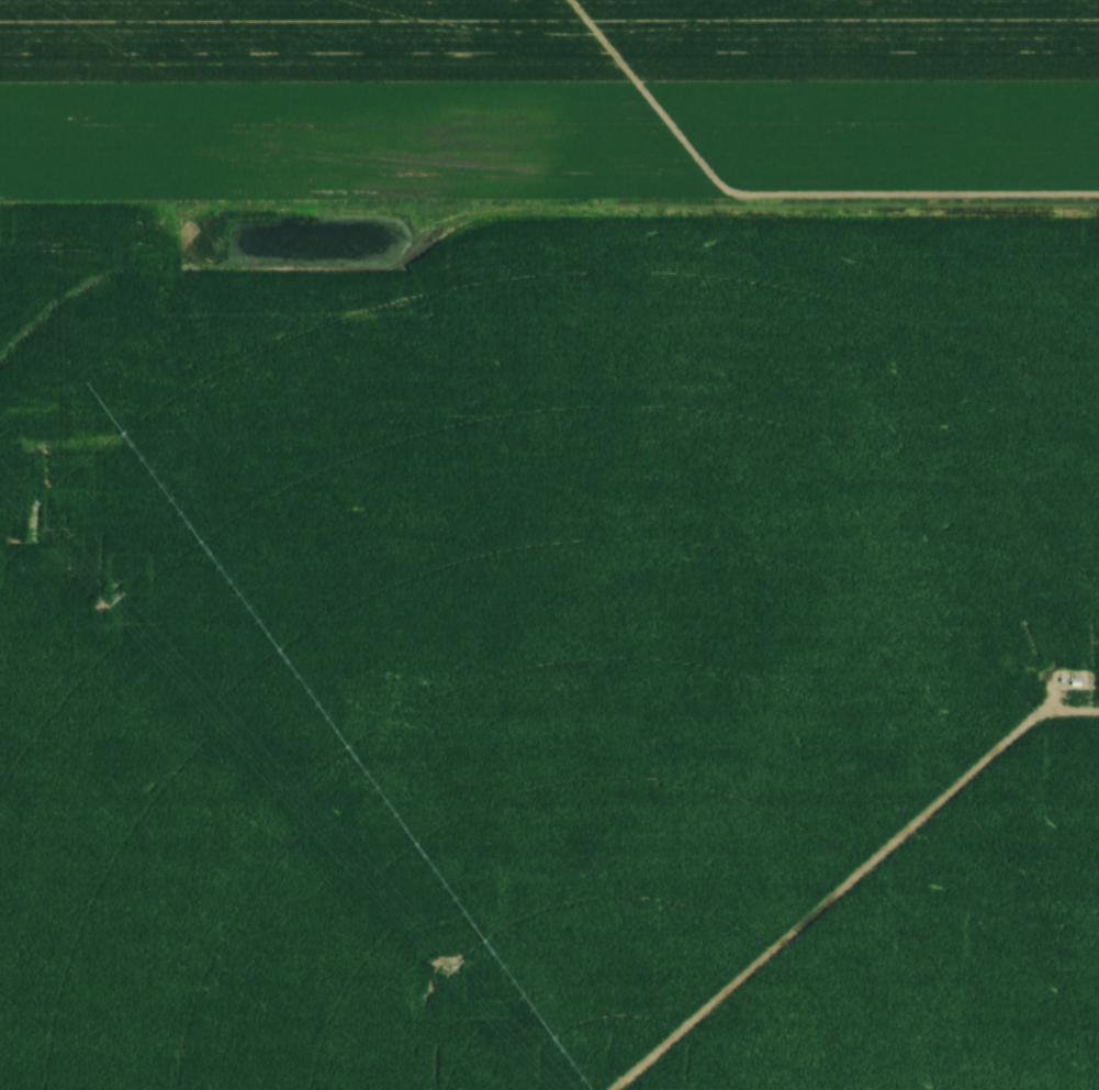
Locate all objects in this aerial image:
power tower: (110, 601)
power tower: (441, 963)

